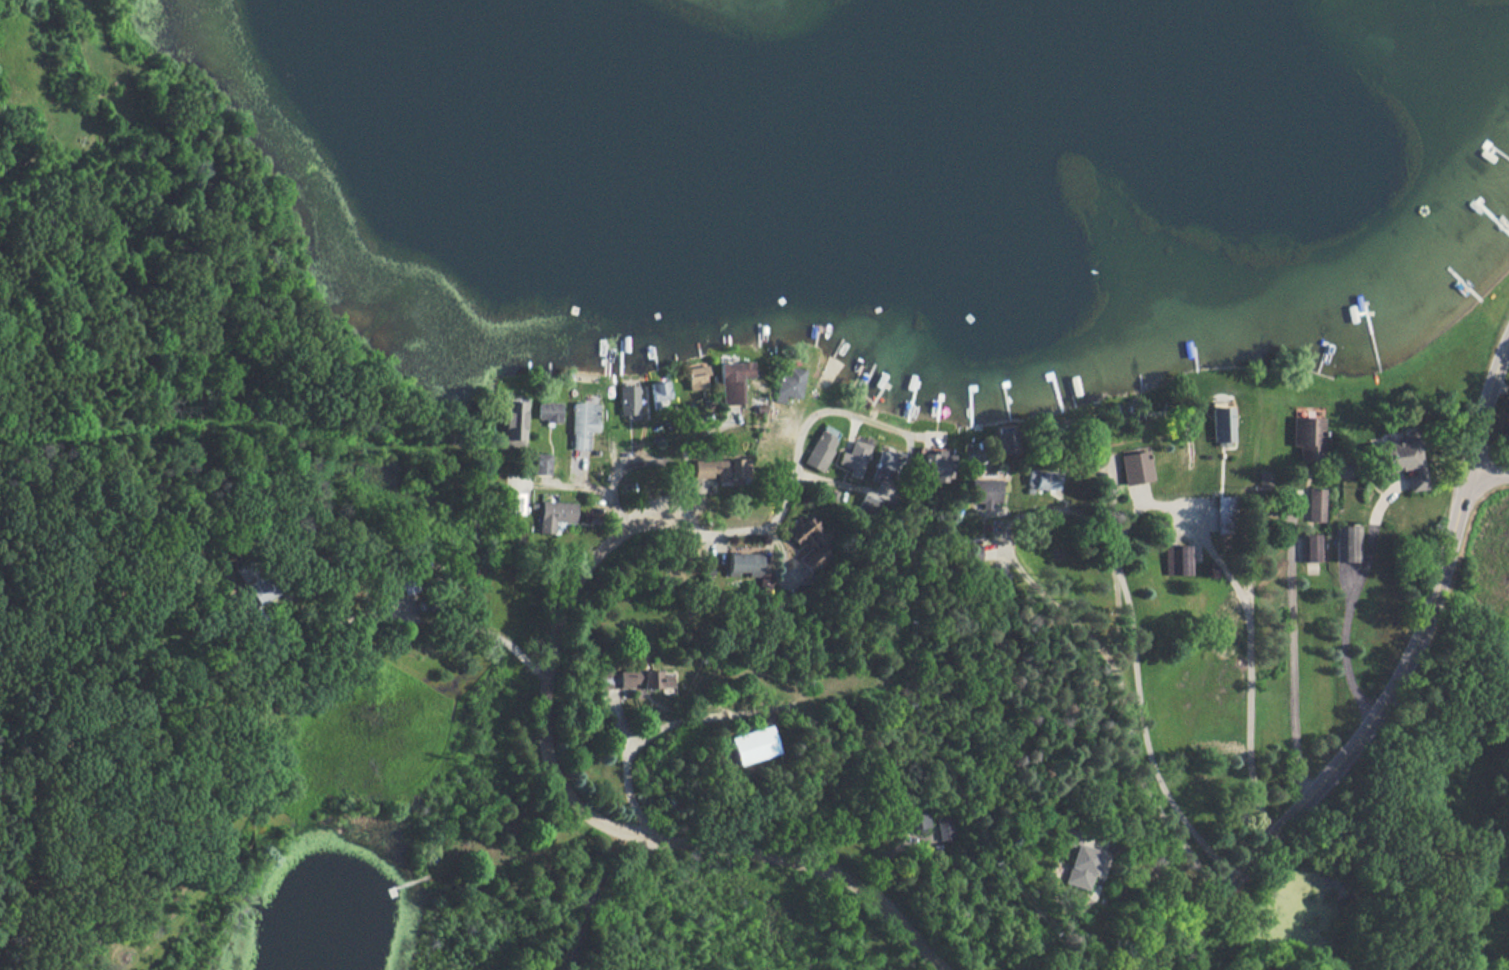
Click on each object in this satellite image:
road: (97, 111)
park: (164, 307)
building: (827, 374)
building: (694, 379)
building: (733, 379)
building: (790, 381)
building: (659, 393)
building: (628, 400)
building: (548, 411)
building: (513, 423)
building: (1220, 423)
building: (582, 424)
building: (1307, 437)
building: (857, 458)
building: (1392, 460)
building: (1126, 466)
road: (1490, 468)
building: (711, 470)
road: (872, 483)
road: (575, 490)
building: (984, 494)
road: (792, 503)
building: (554, 515)
road: (1353, 608)
road: (411, 618)
road: (1252, 648)
road: (1116, 651)
road: (1292, 660)
building: (629, 679)
road: (1388, 691)
road: (1147, 693)
road: (654, 733)
building: (749, 745)
park: (1405, 813)
road: (606, 822)
building: (1076, 867)
road: (598, 892)

